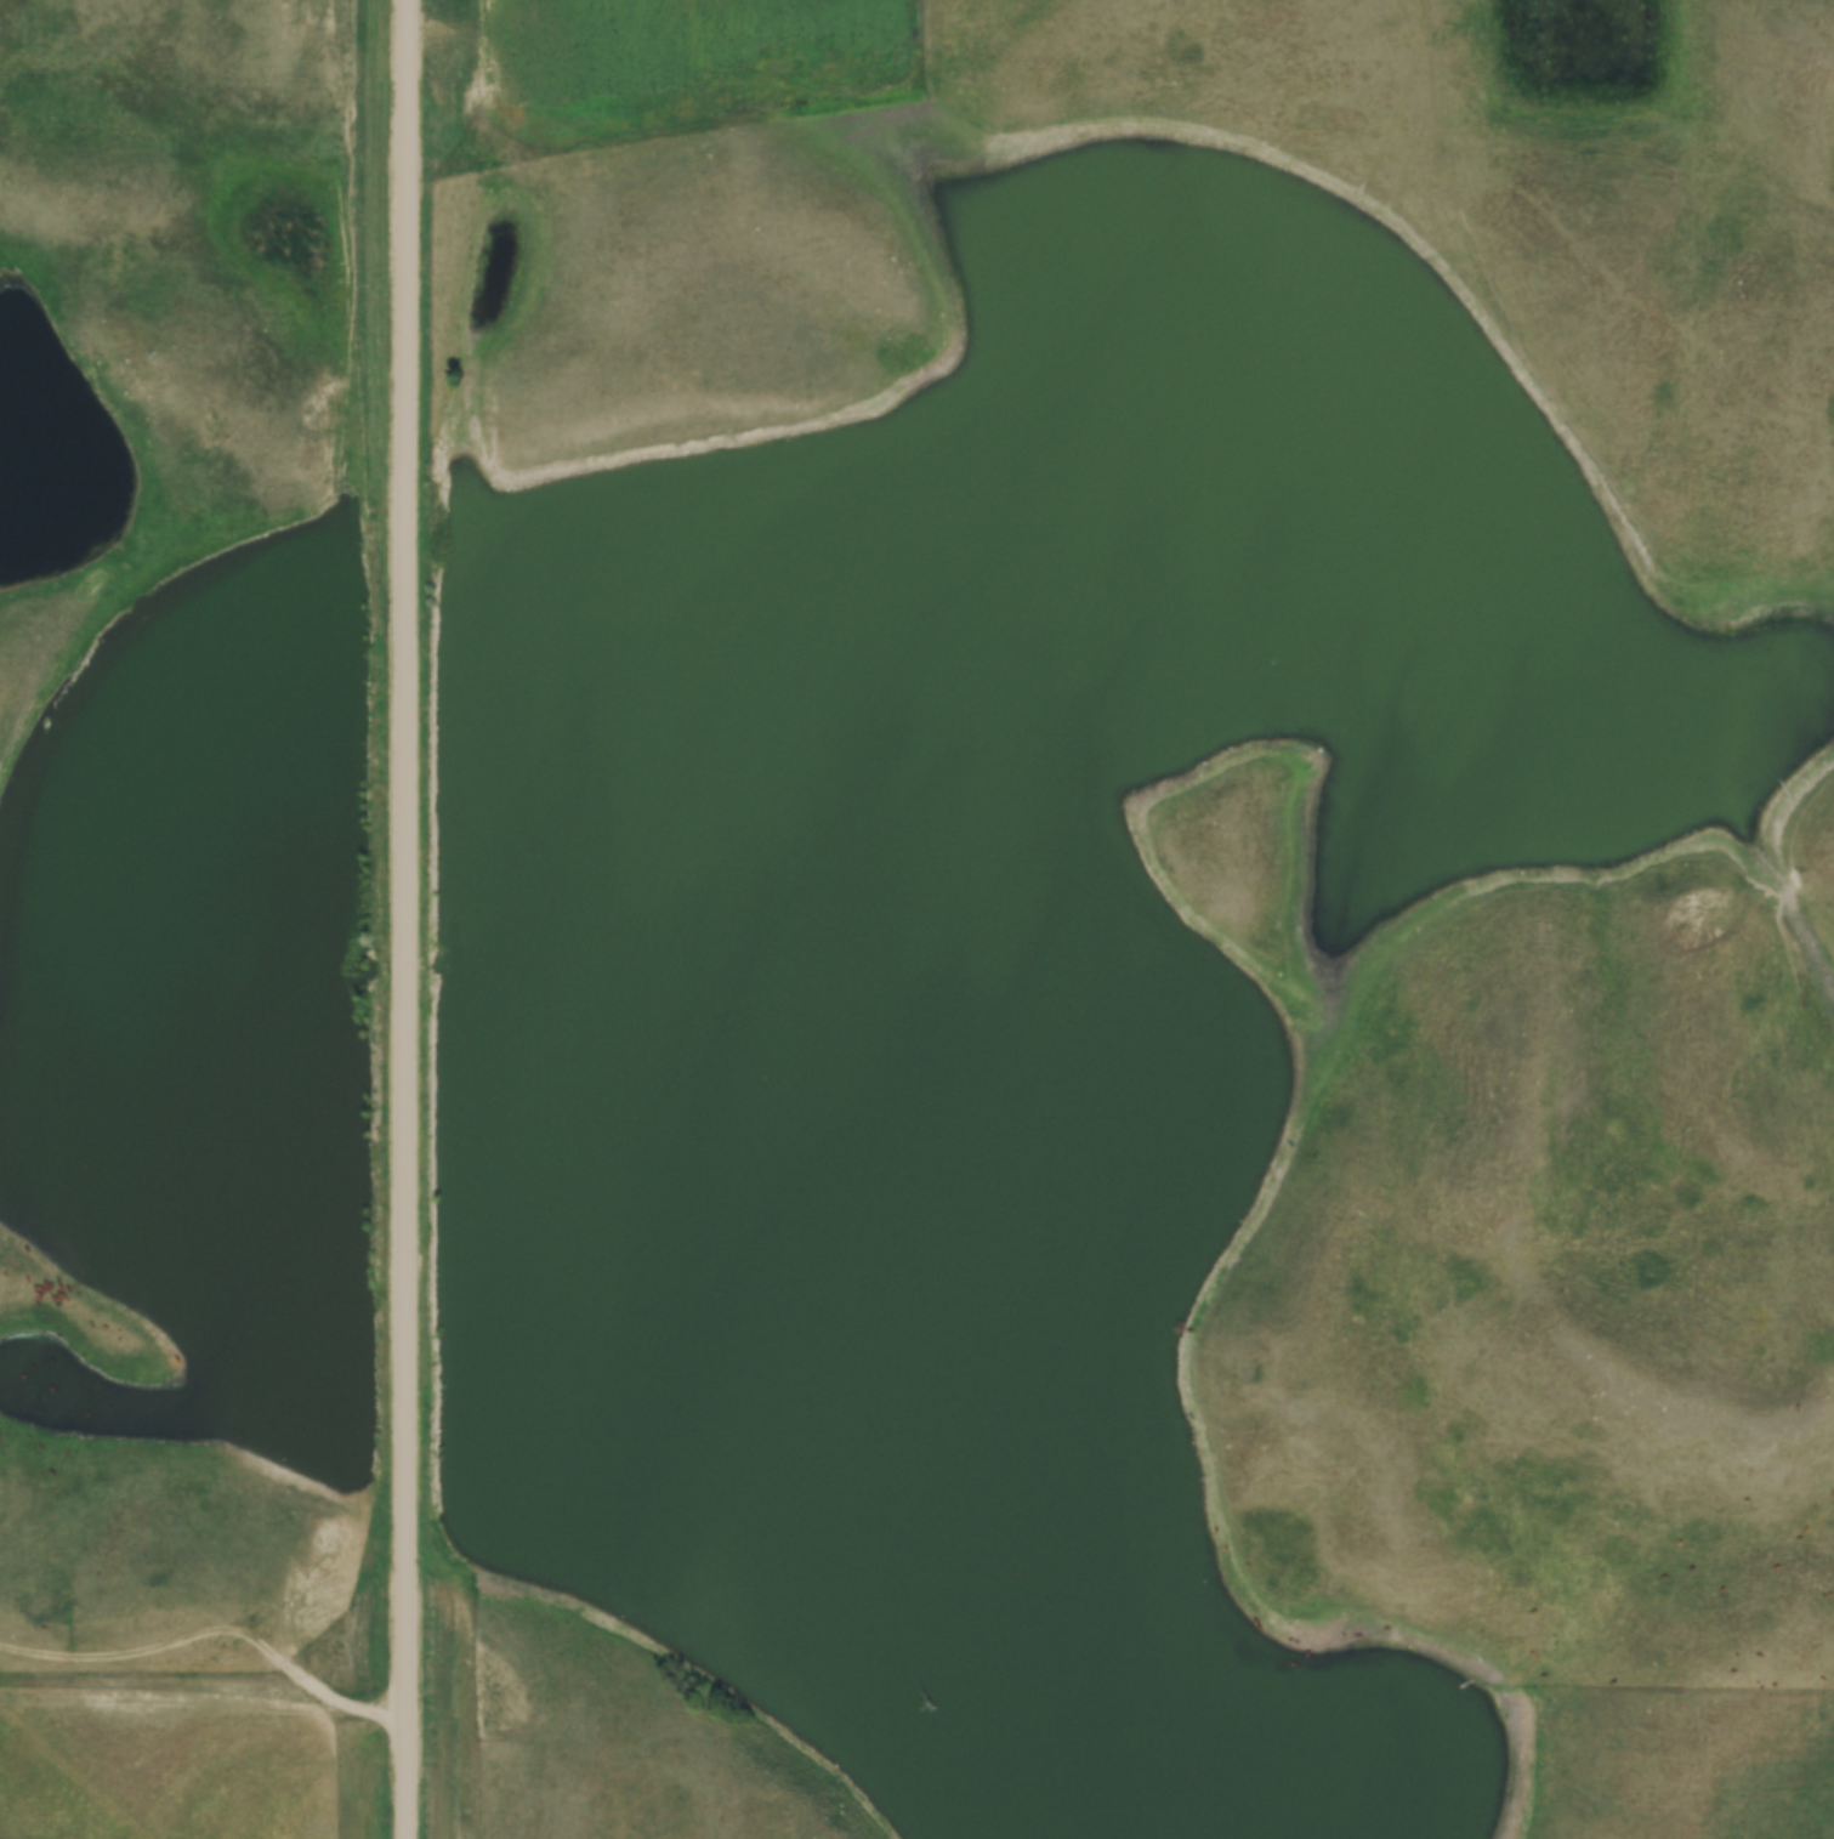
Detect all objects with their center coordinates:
road: (405, 919)
road: (203, 1702)

